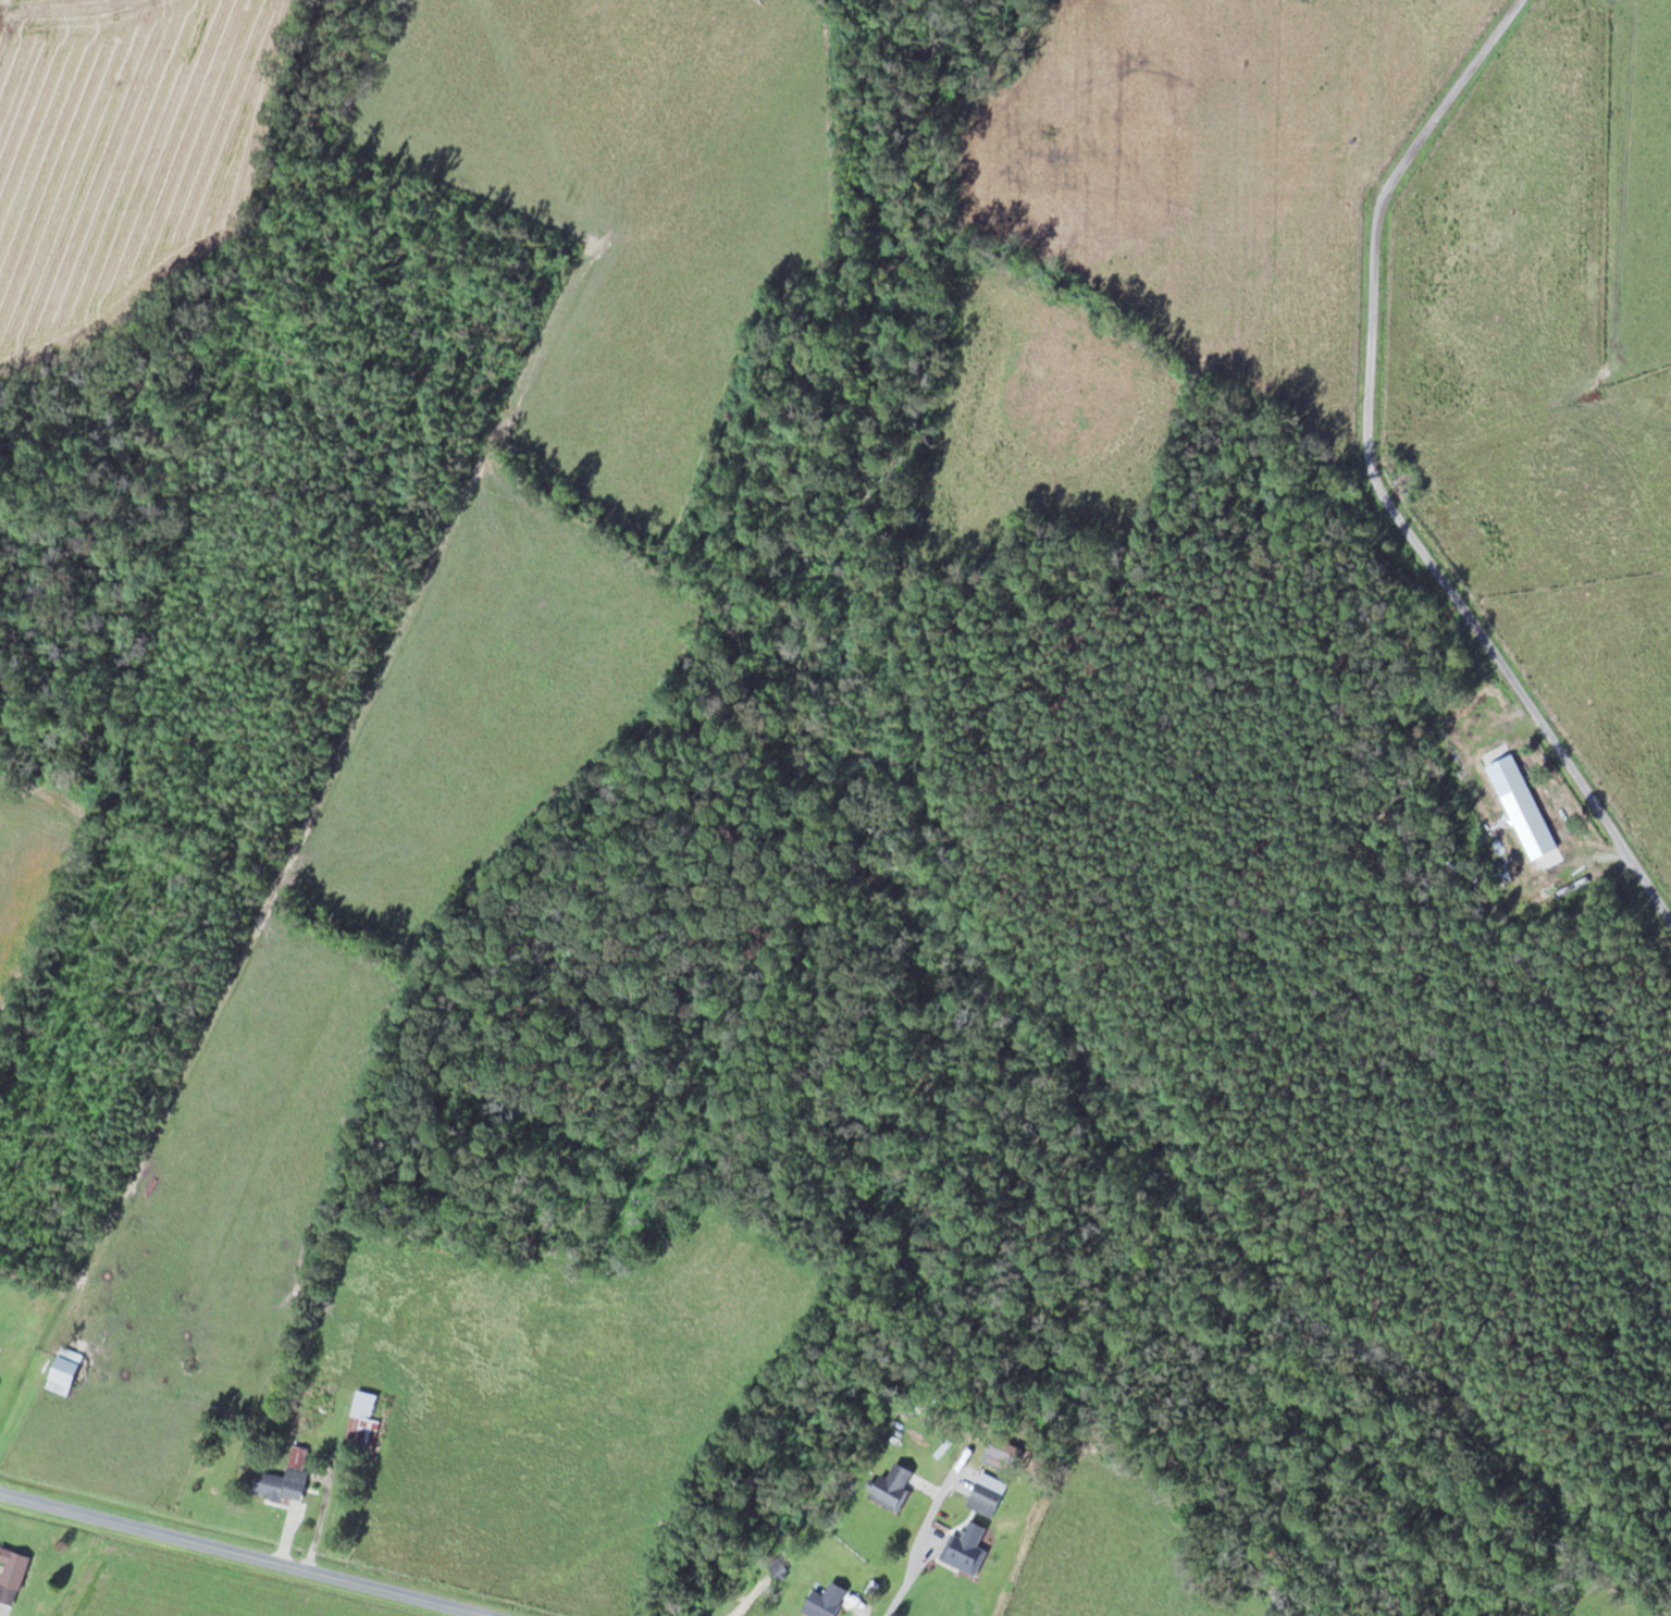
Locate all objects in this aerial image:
road: (1527, 707)
building: (1523, 807)
building: (64, 1370)
building: (364, 1421)
building: (287, 1477)
building: (894, 1487)
building: (987, 1494)
road: (244, 1554)
building: (964, 1554)
building: (12, 1574)
building: (827, 1601)

